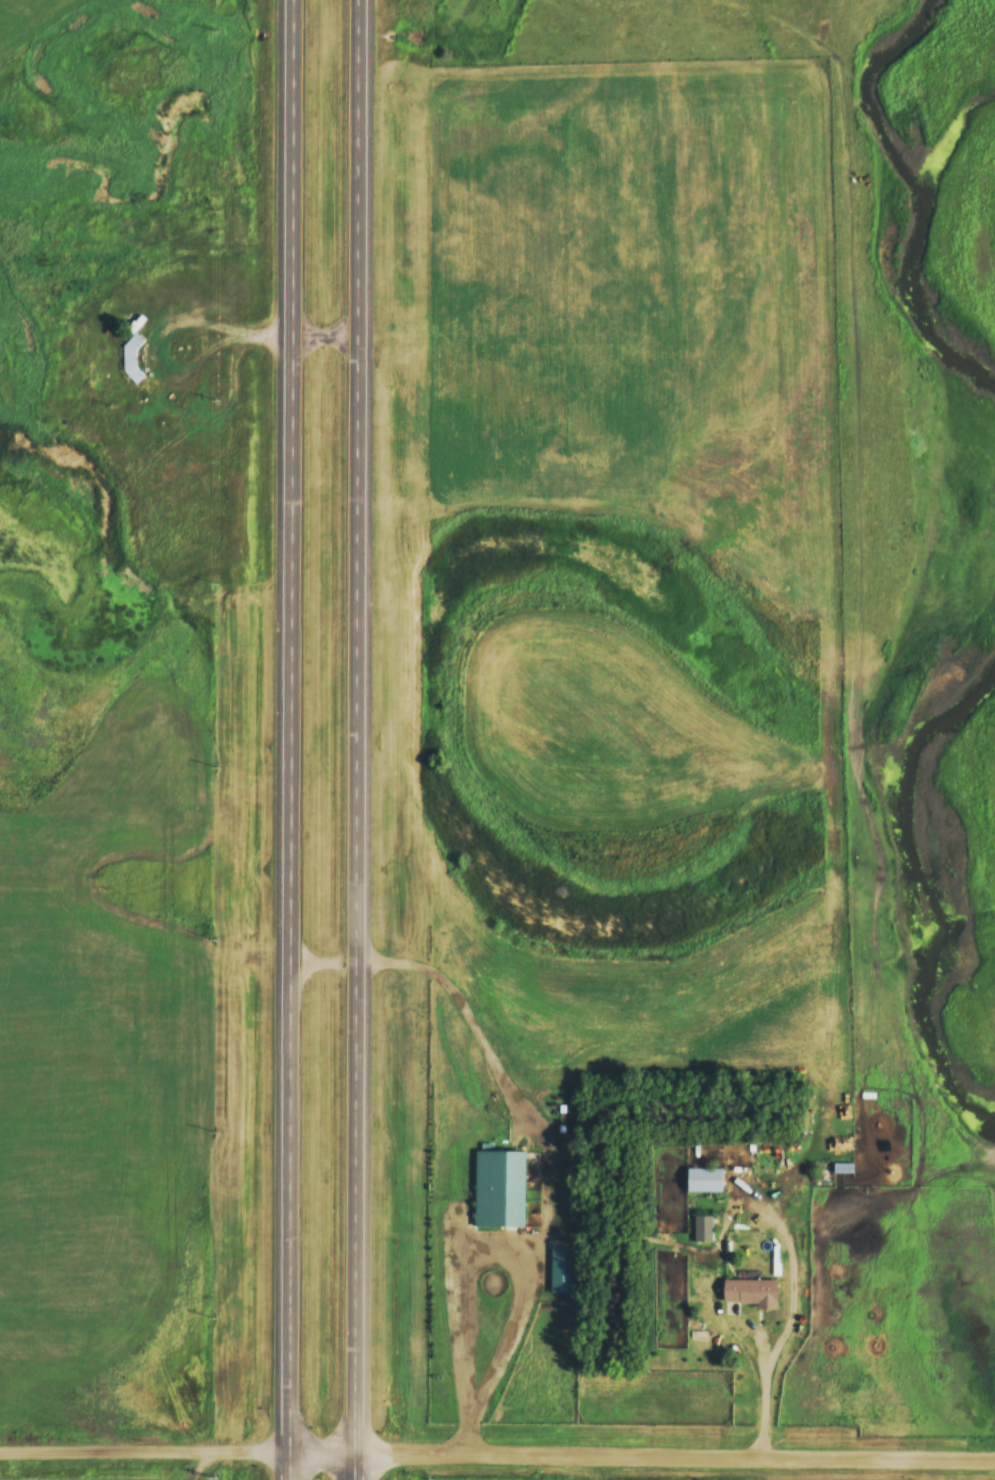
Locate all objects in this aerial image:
river: (880, 199)
road: (169, 330)
road: (305, 334)
road: (293, 739)
road: (361, 739)
river: (922, 876)
road: (489, 1043)
building: (700, 1179)
building: (498, 1187)
building: (703, 1227)
road: (519, 1250)
building: (746, 1291)
road: (769, 1379)
road: (497, 1455)

